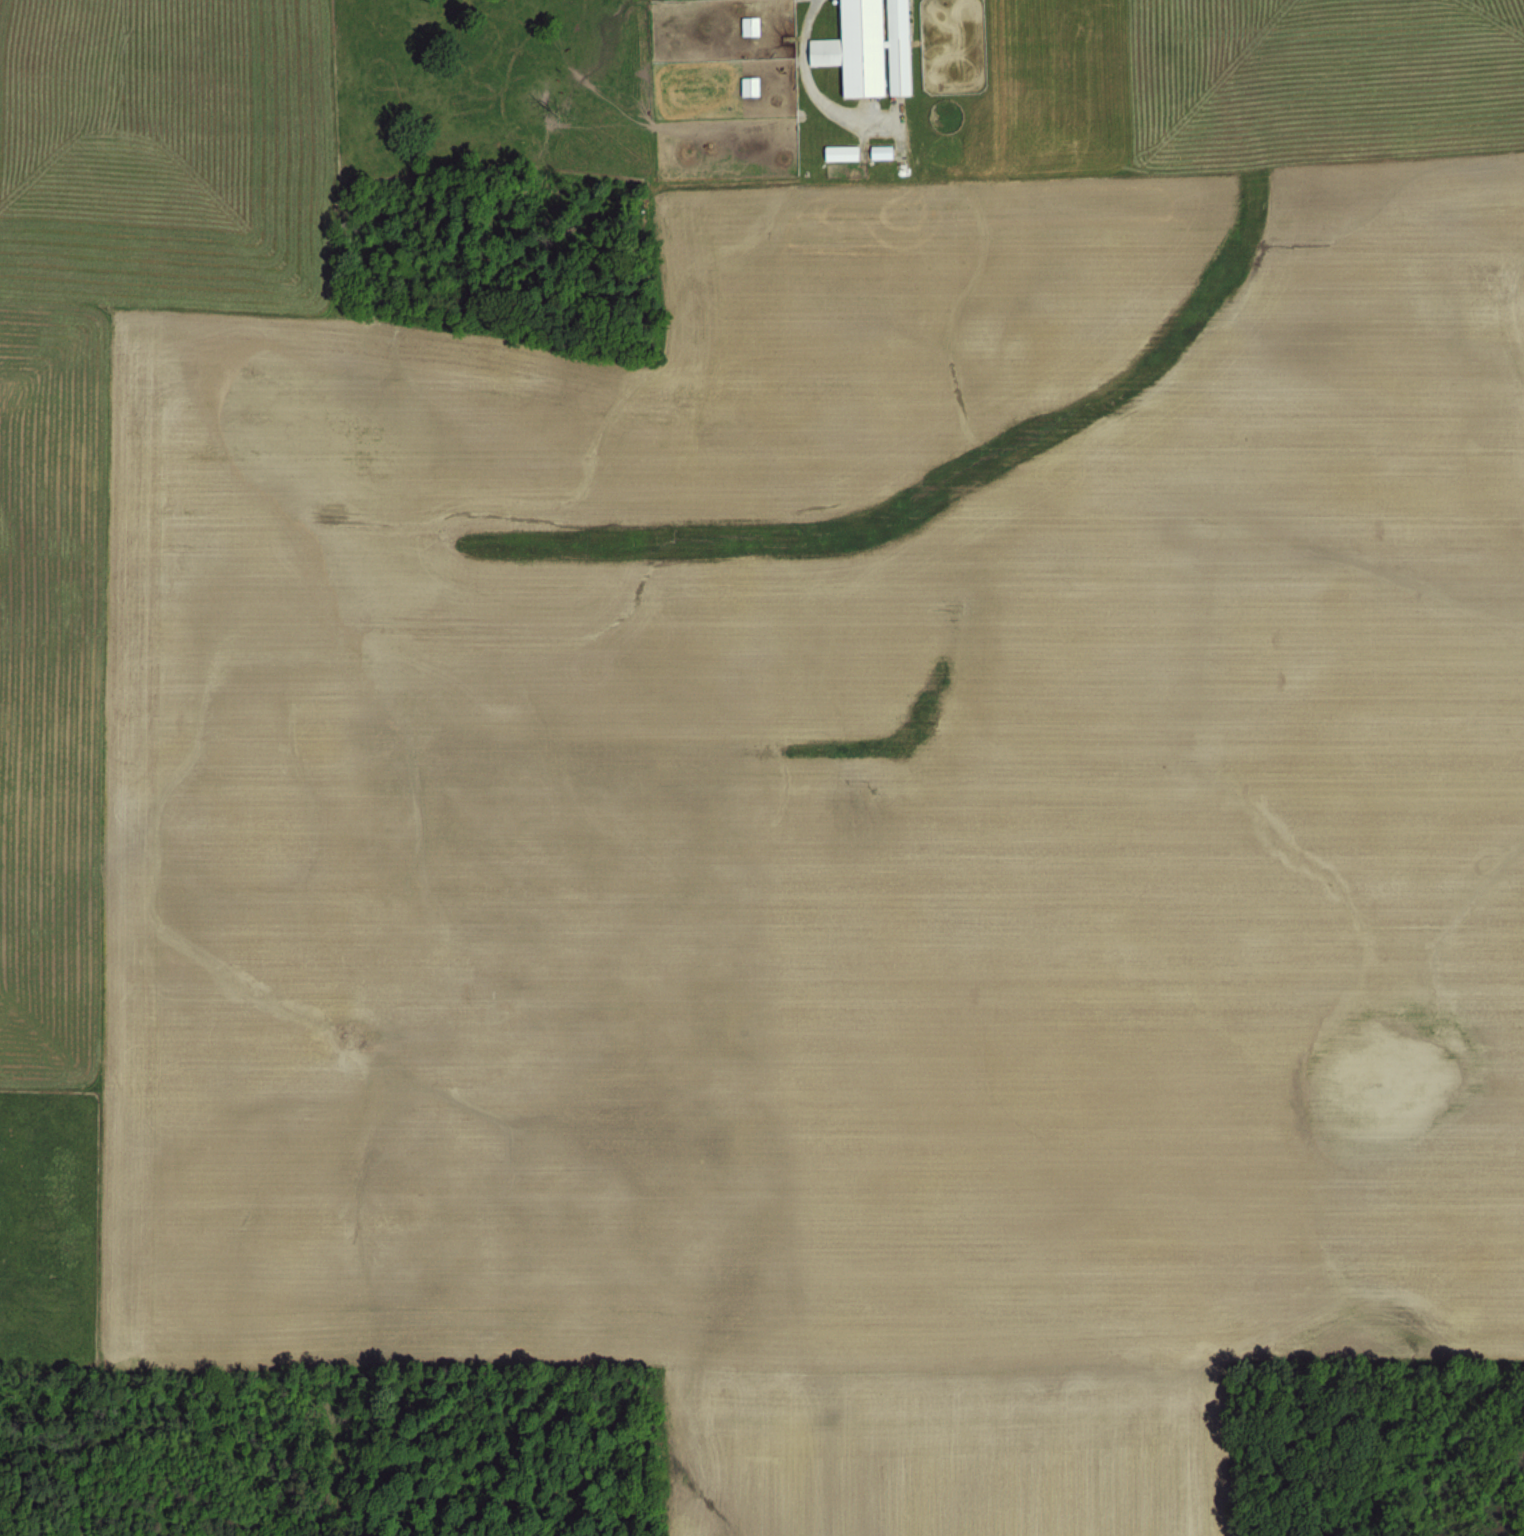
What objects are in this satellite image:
building: (744, 25)
building: (863, 46)
road: (799, 73)
building: (744, 85)
building: (876, 151)
building: (835, 152)
building: (1507, 290)
crop: (762, 768)

